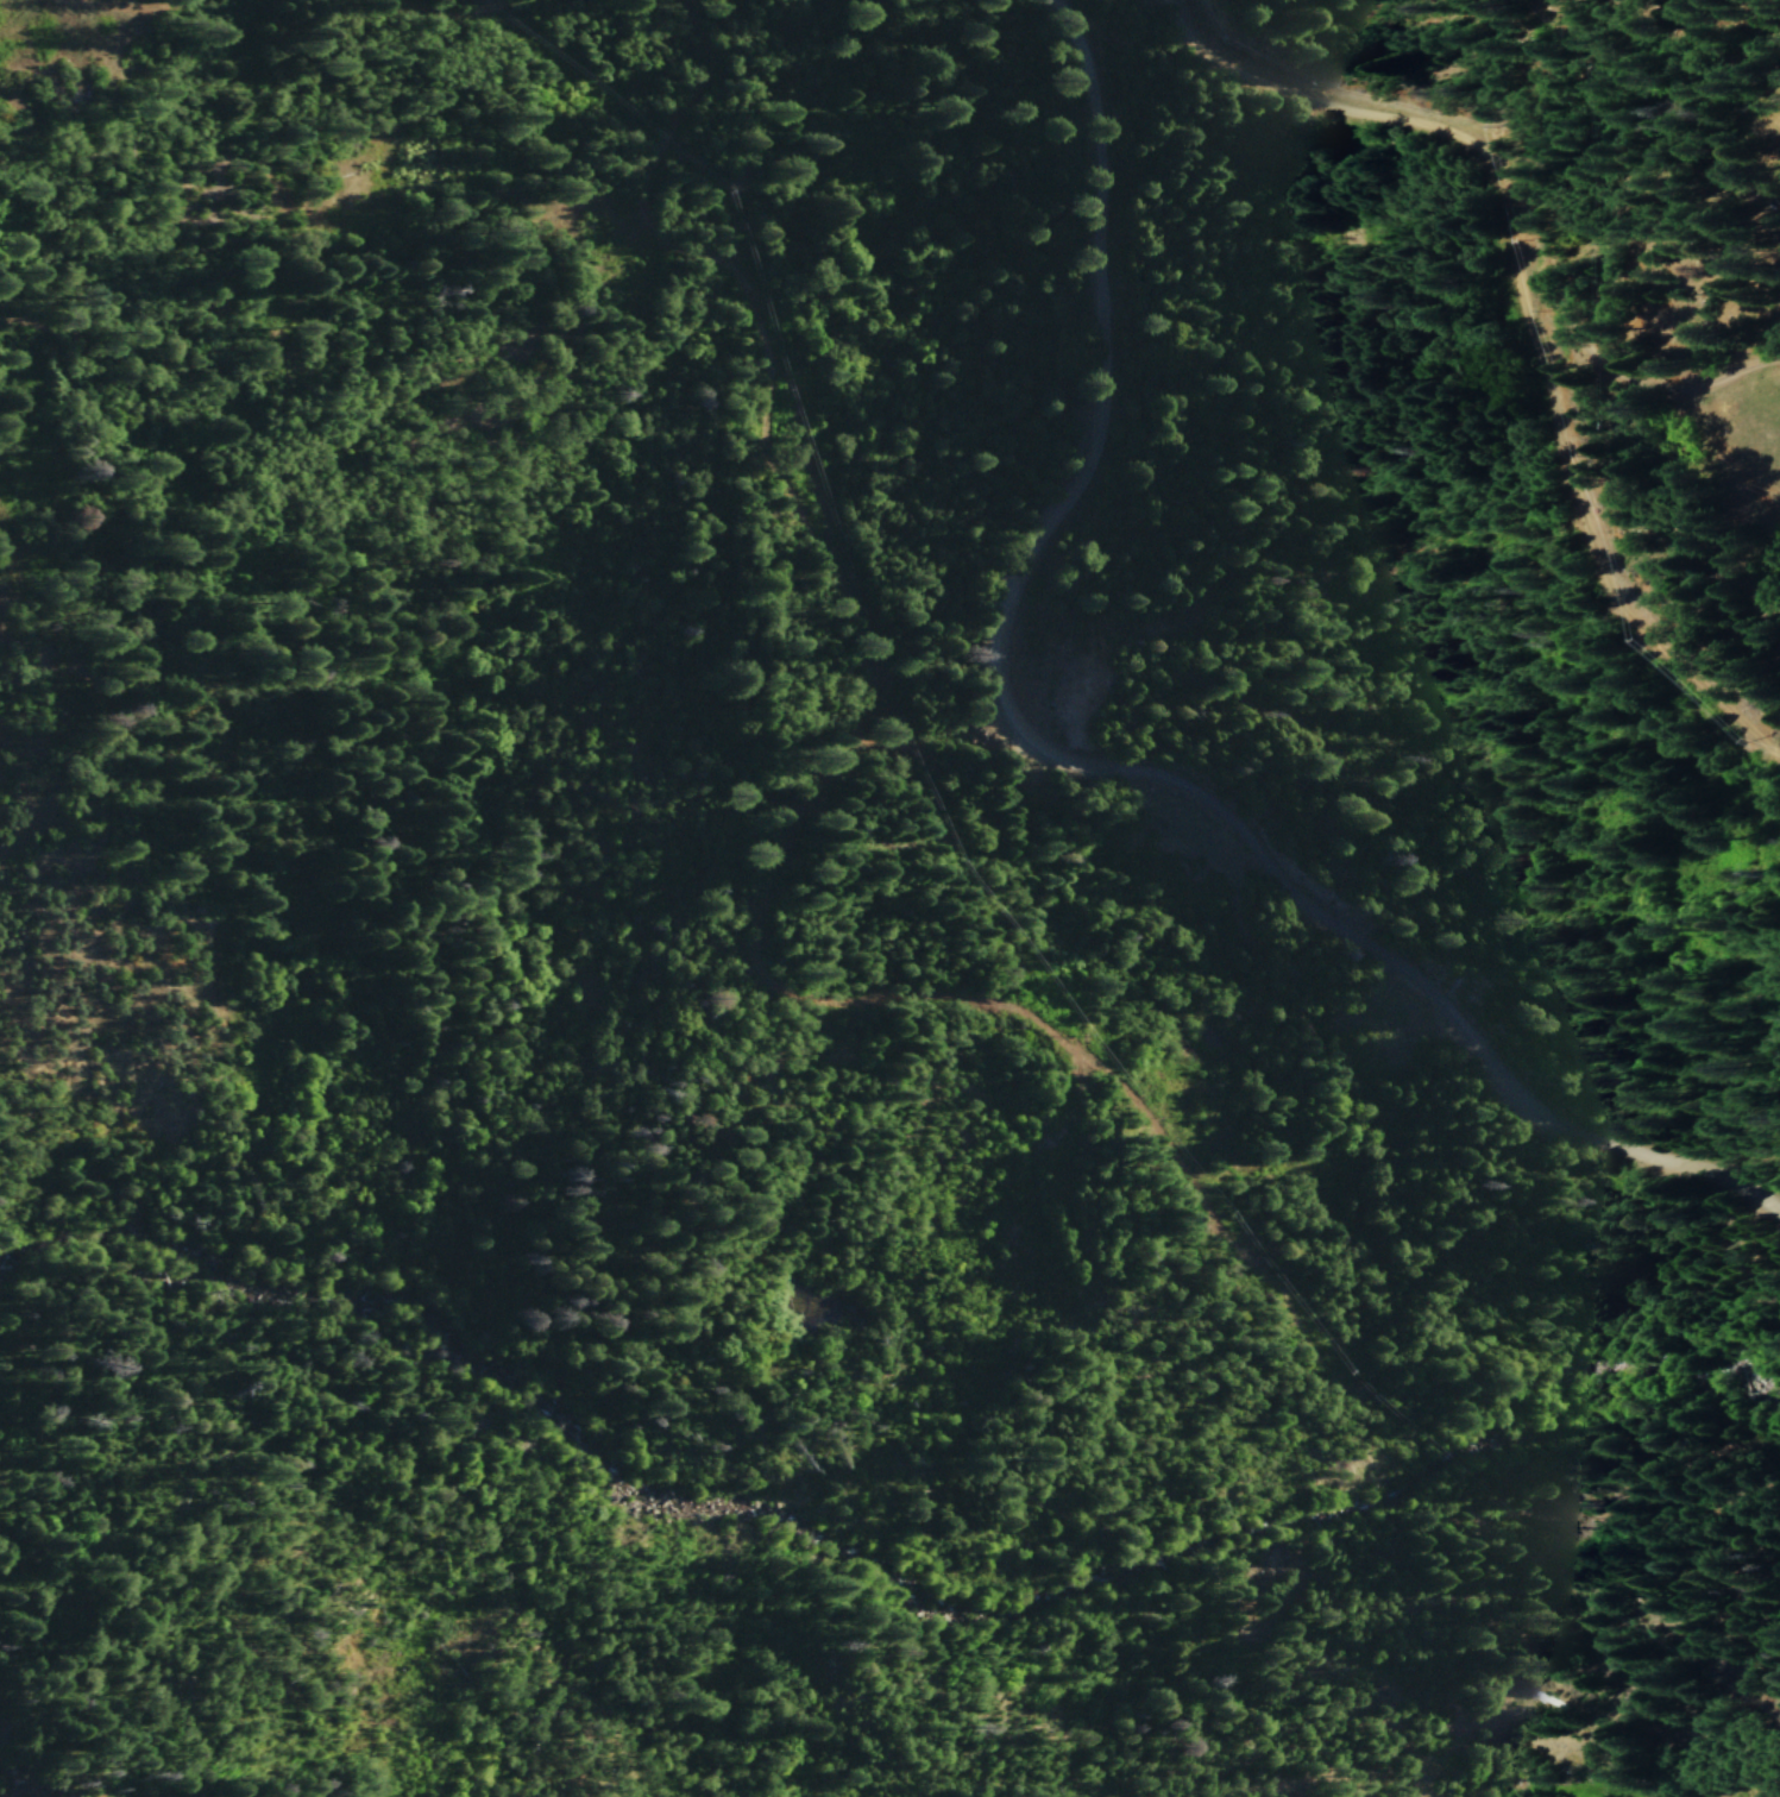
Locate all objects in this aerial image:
road: (1487, 144)
road: (1084, 783)

